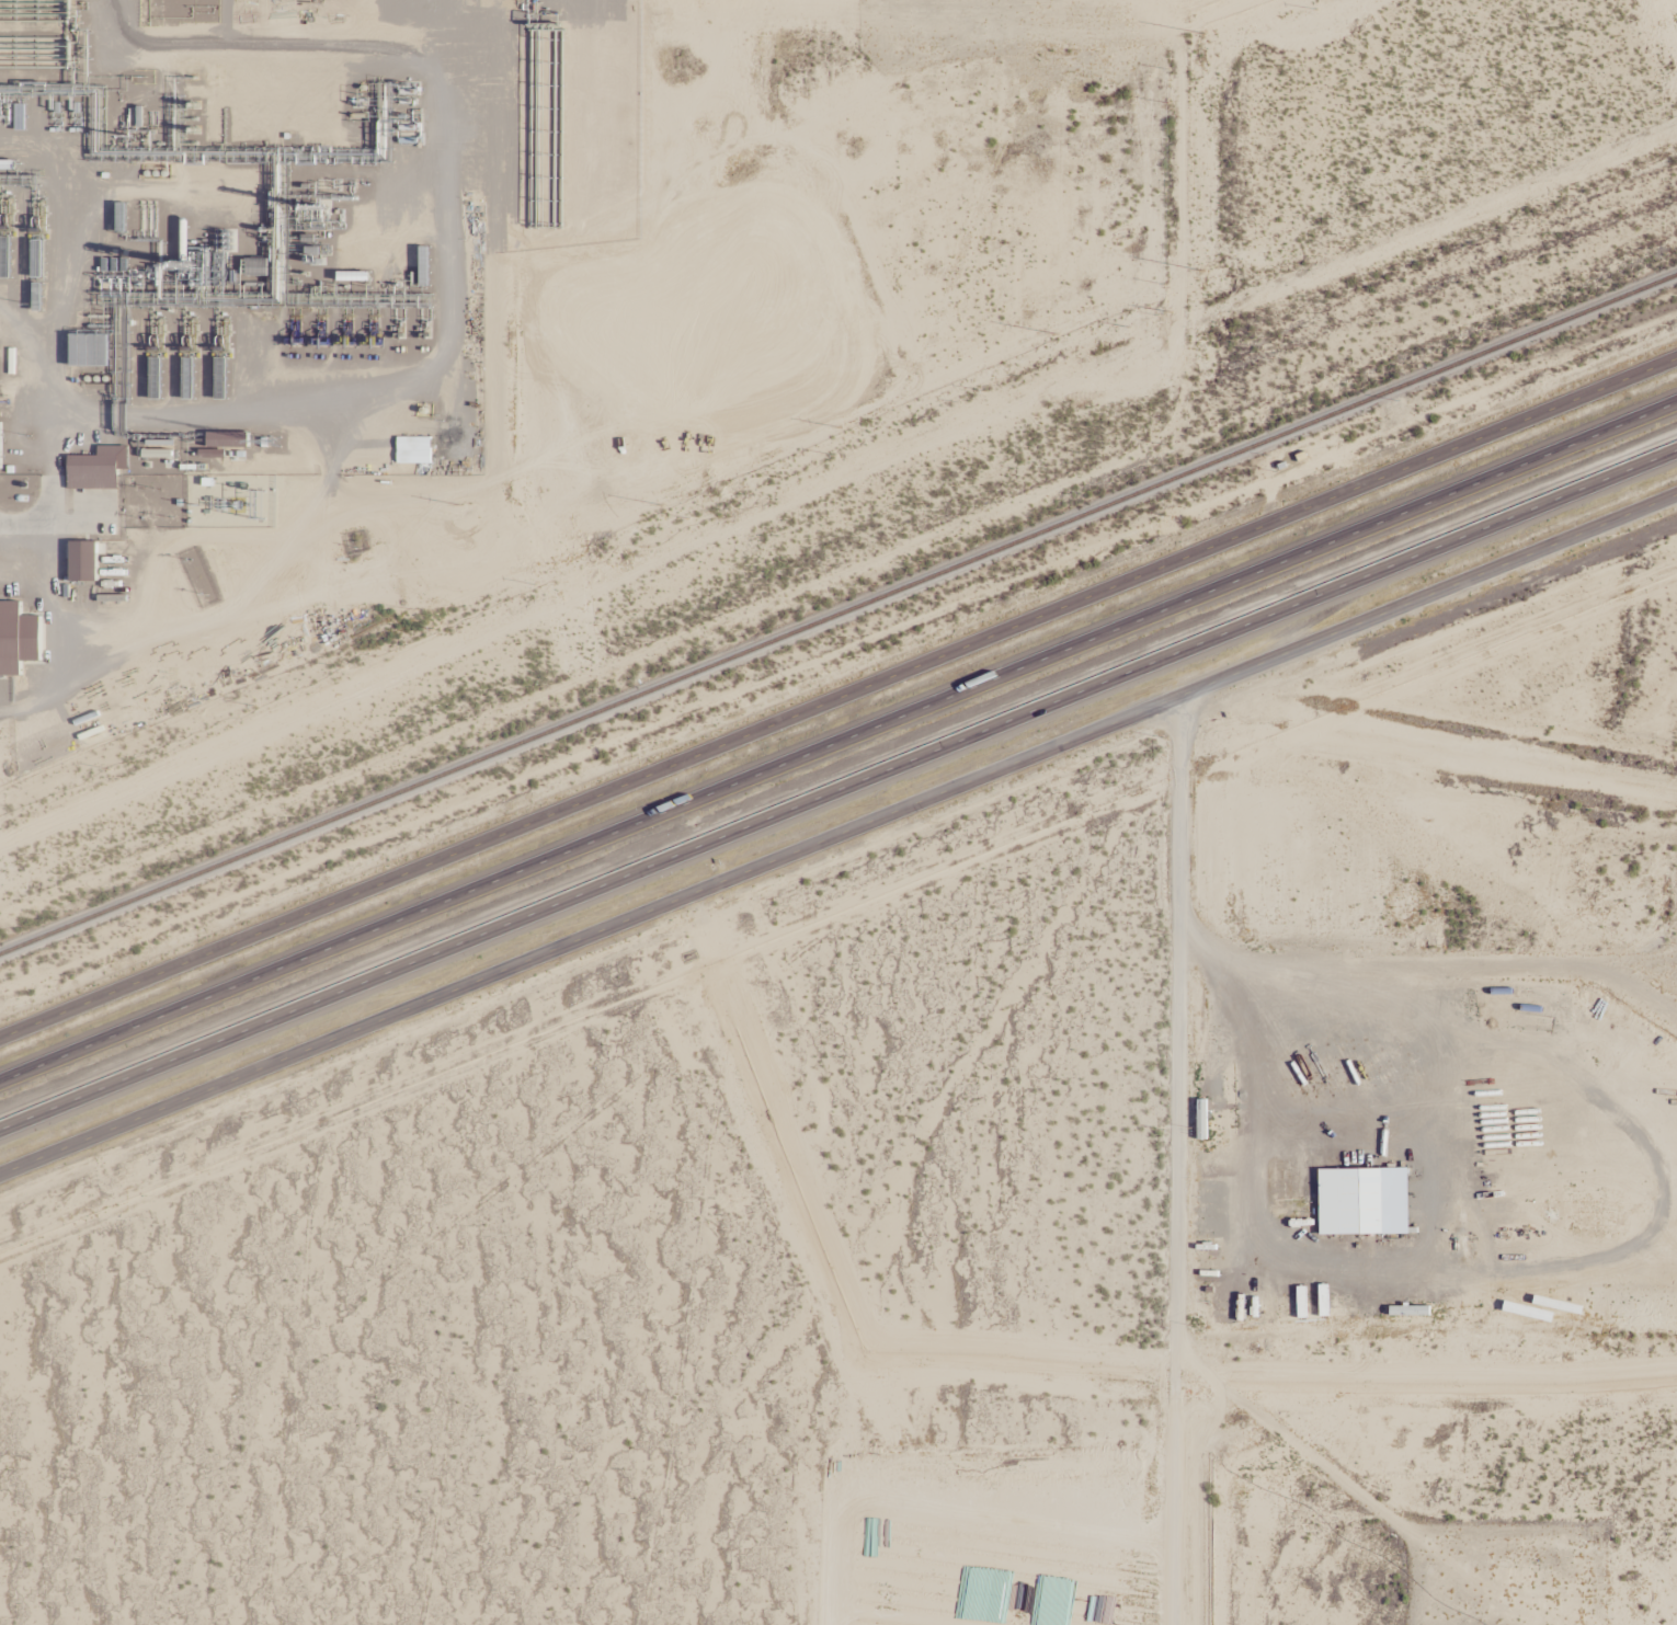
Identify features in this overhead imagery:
building: (414, 451)
building: (155, 455)
building: (113, 457)
power substation: (230, 502)
building: (84, 561)
railway: (839, 616)
building: (22, 637)
road: (837, 698)
road: (839, 742)
road: (839, 791)
road: (837, 846)
road: (1176, 1165)
building: (1365, 1203)
building: (1414, 1312)

